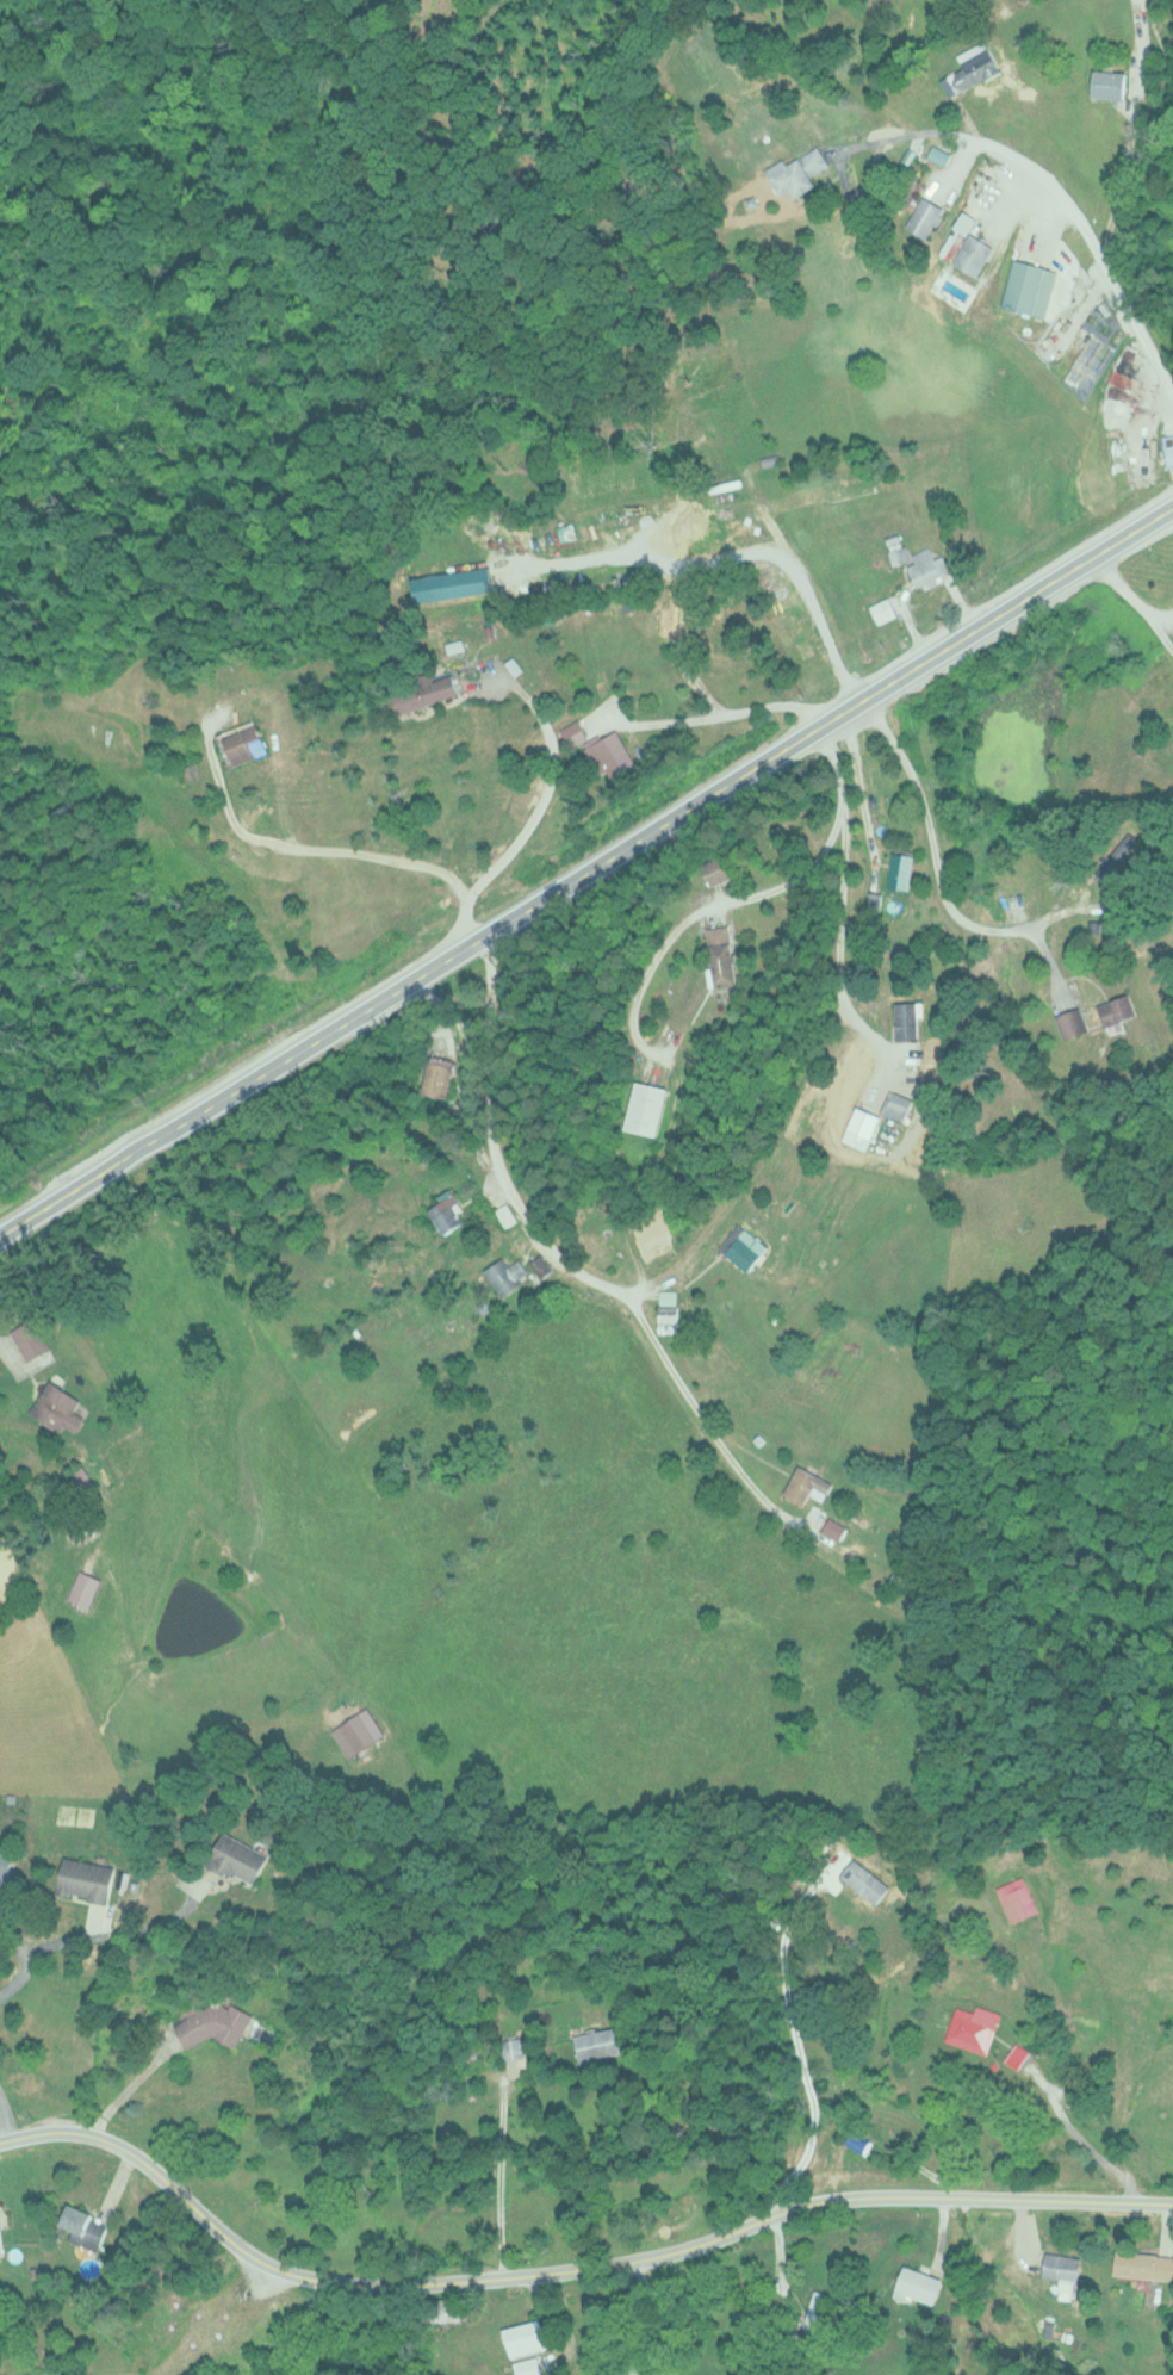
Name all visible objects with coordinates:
building: (972, 68)
building: (1110, 82)
building: (939, 155)
building: (797, 172)
building: (929, 213)
building: (954, 240)
road: (1093, 241)
building: (974, 254)
building: (1030, 287)
road: (805, 317)
road: (932, 365)
road: (726, 558)
building: (929, 566)
road: (1127, 593)
building: (883, 609)
road: (1160, 630)
building: (424, 689)
road: (1097, 701)
road: (411, 721)
building: (578, 733)
building: (244, 742)
building: (613, 755)
road: (323, 854)
road: (585, 868)
building: (722, 868)
building: (902, 870)
road: (933, 872)
road: (885, 891)
building: (724, 955)
building: (1118, 1009)
building: (907, 1021)
building: (1073, 1023)
building: (436, 1077)
building: (898, 1105)
building: (650, 1109)
building: (862, 1128)
road: (496, 1145)
building: (448, 1214)
building: (744, 1247)
building: (541, 1264)
building: (508, 1275)
building: (669, 1317)
road: (583, 1327)
building: (31, 1339)
building: (58, 1408)
road: (710, 1430)
building: (807, 1486)
building: (836, 1528)
building: (83, 1590)
building: (309, 1699)
building: (241, 1856)
building: (6, 1864)
building: (87, 1878)
building: (865, 1879)
building: (1017, 1899)
road: (24, 1962)
building: (215, 2021)
building: (973, 2027)
building: (598, 2044)
building: (511, 2047)
road: (4, 2125)
building: (83, 2222)
building: (0, 2238)
building: (1144, 2264)
building: (1063, 2265)
road: (566, 2268)
building: (919, 2286)
building: (451, 2308)
building: (813, 2309)
building: (526, 2338)

